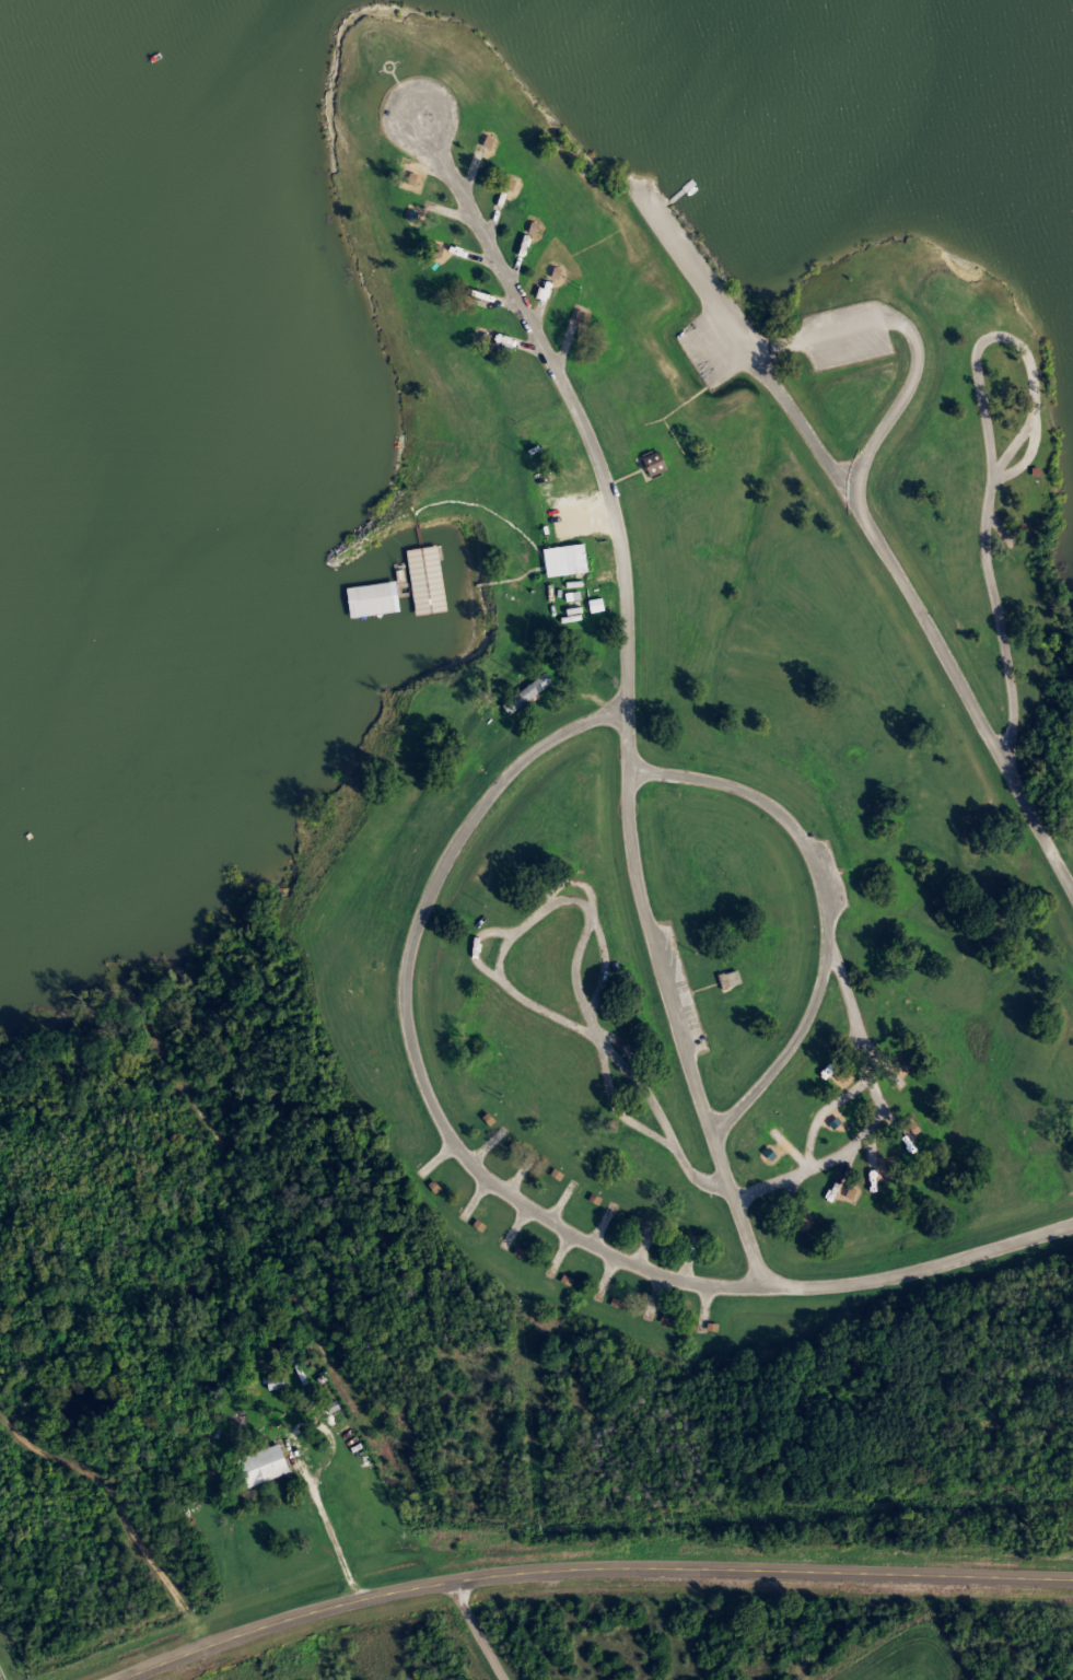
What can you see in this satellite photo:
building: (408, 180)
road: (911, 340)
road: (978, 390)
building: (651, 465)
road: (866, 528)
building: (569, 558)
building: (431, 579)
building: (375, 593)
building: (573, 596)
building: (596, 606)
building: (429, 608)
road: (995, 619)
road: (626, 690)
building: (523, 693)
park: (527, 875)
road: (825, 926)
building: (726, 979)
road: (785, 1053)
road: (807, 1151)
road: (495, 1188)
building: (276, 1382)
building: (258, 1467)
road: (604, 1584)
road: (475, 1635)

